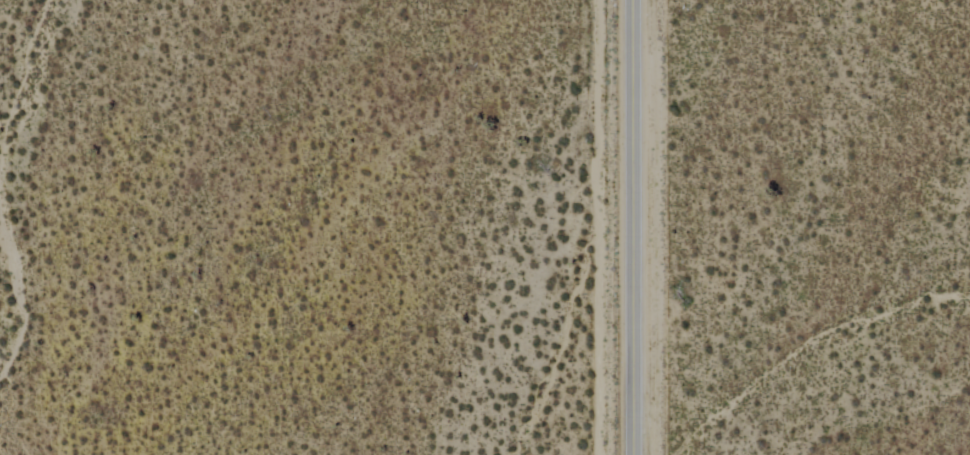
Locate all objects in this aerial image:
road: (632, 227)

